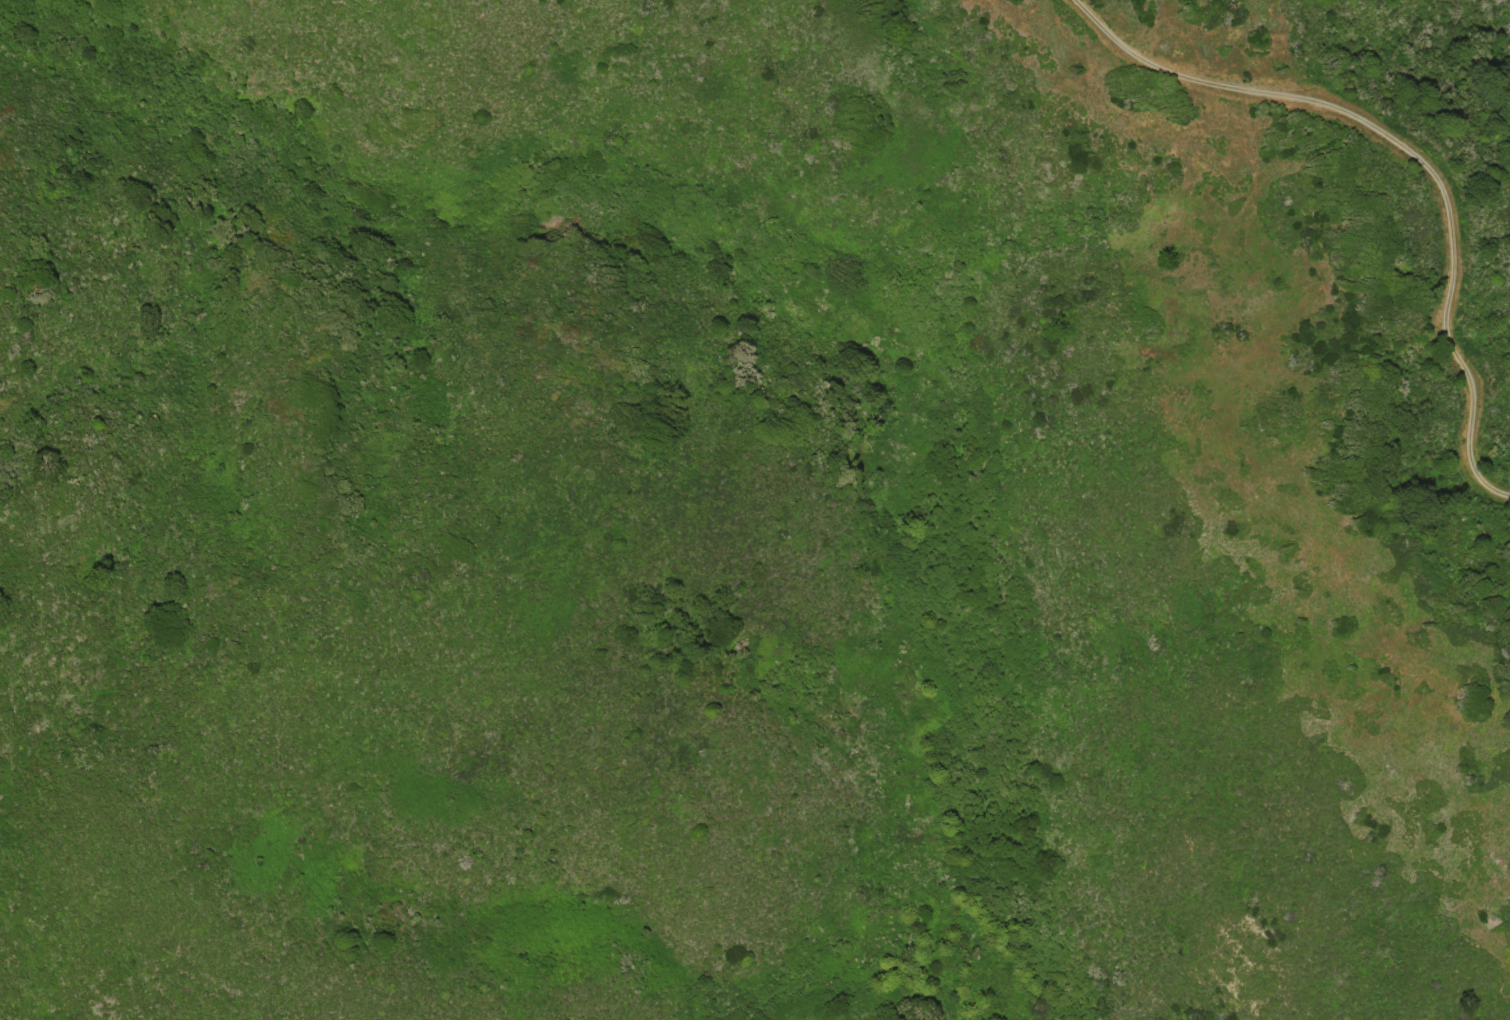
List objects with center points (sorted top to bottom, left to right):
road: (1416, 154)

